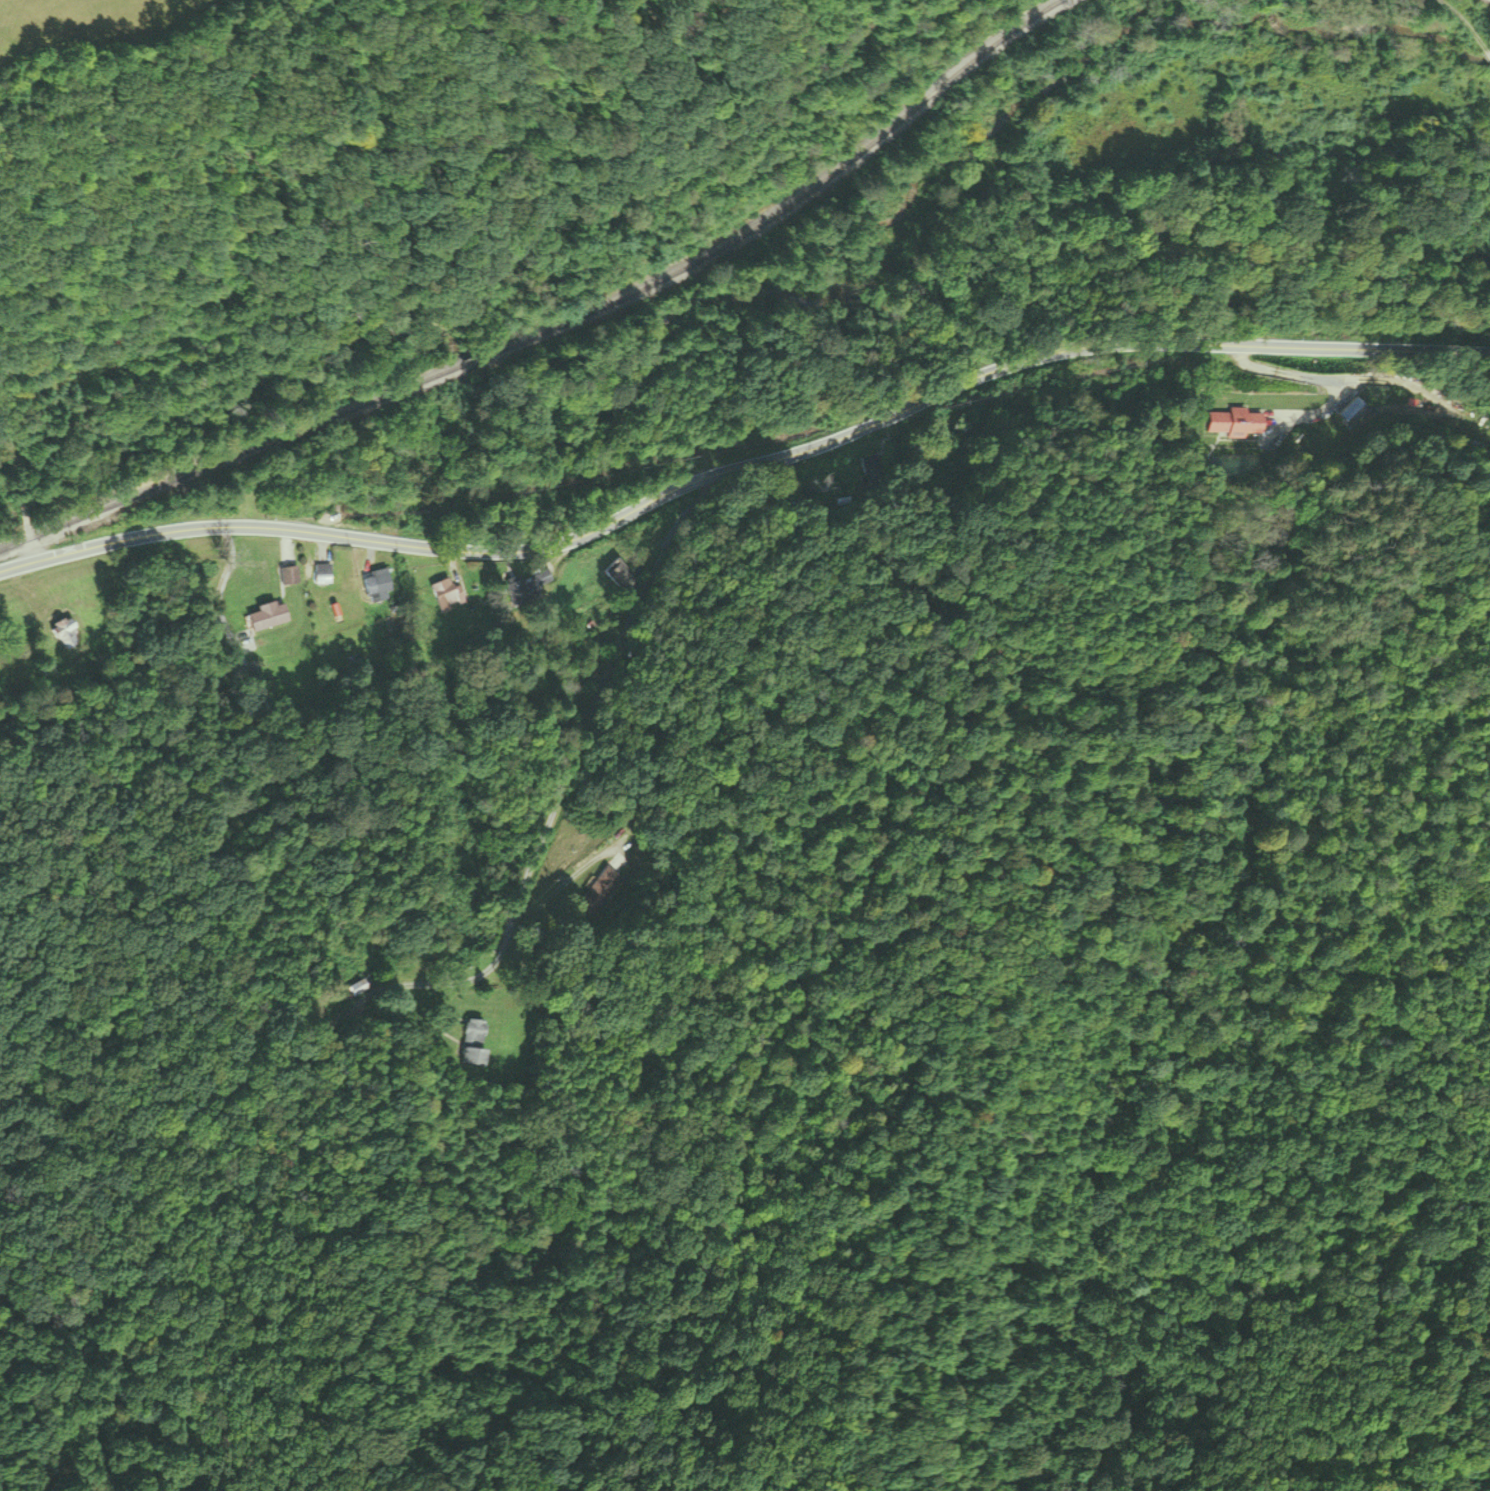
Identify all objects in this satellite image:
railway: (560, 328)
road: (1341, 374)
building: (1237, 422)
road: (744, 467)
road: (23, 523)
road: (769, 528)
building: (619, 574)
building: (324, 575)
building: (290, 576)
building: (379, 586)
building: (523, 591)
building: (448, 595)
building: (268, 617)
building: (283, 680)
road: (562, 766)
building: (603, 888)
building: (357, 989)
building: (473, 1043)
road: (208, 1162)
road: (85, 1333)

